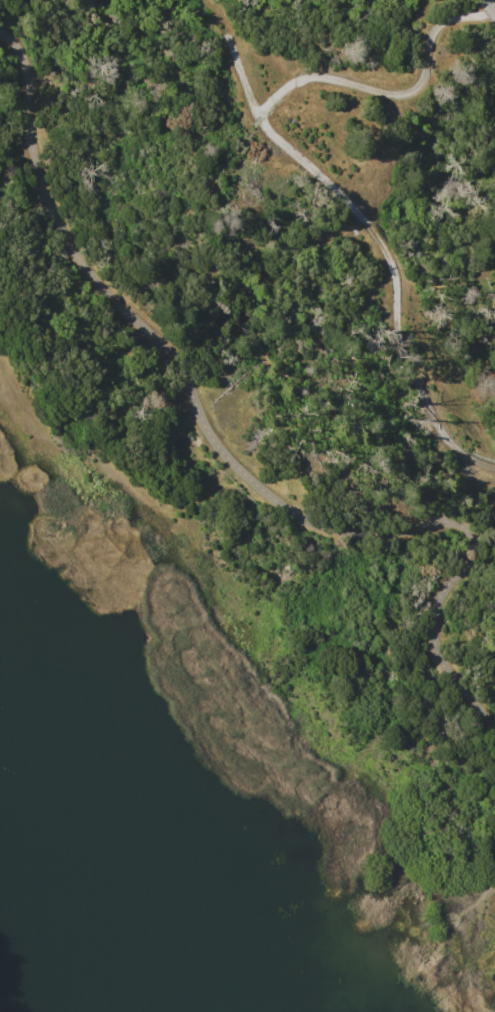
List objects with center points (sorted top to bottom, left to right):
road: (492, 3)
road: (391, 92)
road: (378, 242)
road: (224, 454)

